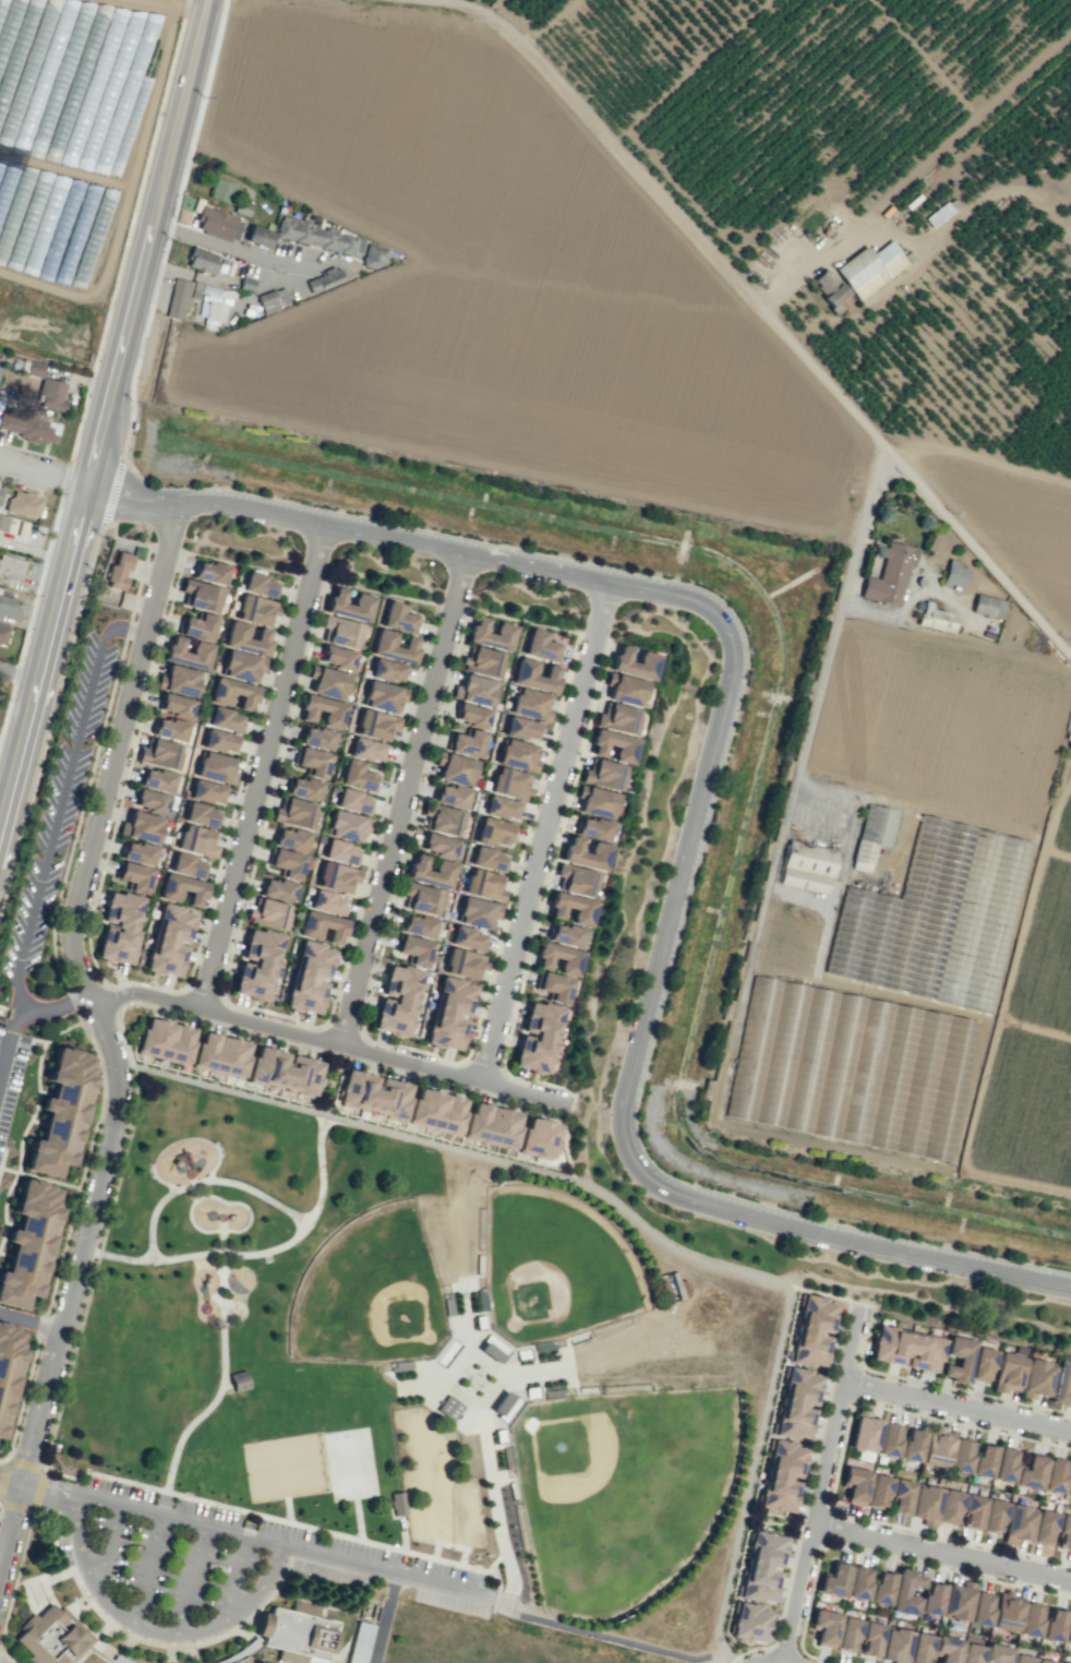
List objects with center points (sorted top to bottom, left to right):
building: (74, 85)
building: (222, 190)
building: (217, 224)
building: (258, 236)
building: (317, 236)
road: (145, 241)
road: (213, 244)
building: (373, 256)
building: (201, 260)
building: (869, 267)
building: (323, 279)
building: (831, 290)
building: (272, 299)
building: (213, 308)
road: (759, 308)
building: (34, 368)
building: (51, 394)
crop: (682, 417)
building: (28, 427)
road: (43, 470)
road: (132, 492)
building: (1, 493)
building: (23, 503)
building: (3, 522)
building: (11, 567)
building: (119, 571)
building: (209, 572)
building: (889, 574)
building: (954, 574)
building: (260, 585)
building: (200, 595)
building: (362, 599)
building: (8, 606)
building: (987, 606)
crop: (954, 607)
building: (255, 610)
building: (398, 618)
building: (935, 618)
building: (197, 626)
building: (340, 631)
building: (2, 634)
building: (492, 634)
building: (246, 638)
road: (830, 641)
building: (383, 642)
building: (541, 645)
road: (41, 650)
building: (188, 653)
building: (336, 657)
building: (482, 661)
building: (634, 662)
building: (241, 666)
building: (387, 670)
road: (17, 673)
building: (534, 675)
building: (179, 680)
building: (328, 682)
building: (474, 690)
building: (625, 690)
building: (232, 693)
building: (383, 696)
building: (530, 704)
building: (175, 705)
crop: (2, 707)
building: (323, 710)
building: (471, 715)
building: (617, 718)
building: (225, 719)
building: (375, 725)
building: (522, 728)
building: (169, 729)
building: (1069, 734)
building: (315, 738)
building: (219, 741)
building: (466, 742)
building: (613, 745)
building: (366, 750)
building: (159, 753)
building: (517, 755)
building: (312, 761)
building: (215, 767)
road: (265, 767)
building: (455, 768)
building: (603, 774)
building: (358, 776)
building: (156, 779)
building: (509, 782)
road: (110, 785)
building: (303, 788)
building: (207, 791)
building: (450, 795)
road: (59, 798)
road: (406, 798)
building: (151, 801)
building: (353, 801)
building: (595, 801)
building: (502, 807)
building: (293, 813)
building: (201, 815)
building: (444, 819)
building: (347, 825)
building: (142, 826)
building: (591, 828)
building: (494, 831)
road: (549, 833)
building: (873, 834)
building: (290, 839)
building: (196, 841)
road: (687, 842)
building: (437, 845)
building: (340, 851)
building: (136, 852)
building: (585, 853)
building: (489, 859)
building: (286, 863)
building: (188, 865)
building: (443, 866)
building: (806, 866)
building: (133, 876)
building: (336, 876)
building: (576, 880)
building: (484, 885)
building: (182, 889)
building: (277, 889)
building: (421, 898)
building: (327, 902)
building: (571, 908)
building: (477, 912)
building: (268, 913)
building: (935, 918)
building: (418, 925)
building: (322, 926)
building: (119, 928)
building: (564, 934)
building: (468, 938)
building: (170, 940)
building: (413, 949)
building: (558, 958)
building: (257, 964)
building: (464, 964)
building: (310, 977)
building: (553, 986)
building: (397, 1001)
road: (26, 1008)
building: (449, 1014)
building: (537, 1037)
road: (333, 1039)
building: (165, 1040)
building: (220, 1054)
building: (284, 1070)
building: (373, 1093)
building: (436, 1111)
building: (61, 1112)
building: (492, 1125)
building: (539, 1138)
road: (566, 1139)
road: (207, 1181)
road: (197, 1192)
road: (215, 1197)
road: (640, 1224)
building: (28, 1243)
road: (257, 1254)
park: (559, 1271)
road: (825, 1293)
park: (371, 1294)
road: (68, 1320)
road: (33, 1321)
building: (810, 1330)
building: (906, 1349)
building: (490, 1352)
building: (958, 1359)
building: (982, 1364)
building: (8, 1368)
park: (424, 1369)
road: (224, 1373)
building: (1036, 1378)
building: (238, 1380)
building: (1061, 1383)
building: (796, 1403)
building: (505, 1405)
road: (958, 1405)
building: (448, 1408)
building: (865, 1432)
building: (889, 1439)
building: (912, 1445)
building: (937, 1447)
building: (961, 1455)
building: (984, 1460)
building: (1004, 1464)
building: (1031, 1472)
building: (1055, 1475)
building: (781, 1476)
road: (9, 1481)
building: (856, 1484)
building: (1069, 1486)
road: (821, 1488)
building: (878, 1491)
park: (627, 1495)
building: (901, 1496)
building: (397, 1503)
building: (925, 1504)
building: (950, 1507)
building: (973, 1511)
building: (994, 1516)
building: (1018, 1523)
building: (1044, 1527)
building: (1064, 1532)
road: (252, 1539)
road: (108, 1548)
road: (402, 1552)
road: (942, 1554)
building: (761, 1566)
road: (148, 1570)
road: (234, 1578)
road: (190, 1579)
building: (834, 1580)
building: (858, 1582)
building: (882, 1588)
building: (905, 1591)
building: (931, 1599)
building: (956, 1602)
building: (980, 1608)
building: (1007, 1612)
building: (1031, 1619)
building: (748, 1623)
building: (1054, 1625)
building: (825, 1627)
road: (154, 1630)
building: (1068, 1630)
building: (297, 1634)
building: (847, 1634)
building: (52, 1637)
building: (870, 1639)
park: (492, 1641)
building: (359, 1642)
building: (894, 1644)
building: (919, 1648)
building: (947, 1649)
building: (971, 1653)
building: (996, 1653)
building: (1021, 1659)
building: (242, 1660)
building: (1044, 1661)
building: (1063, 1662)

